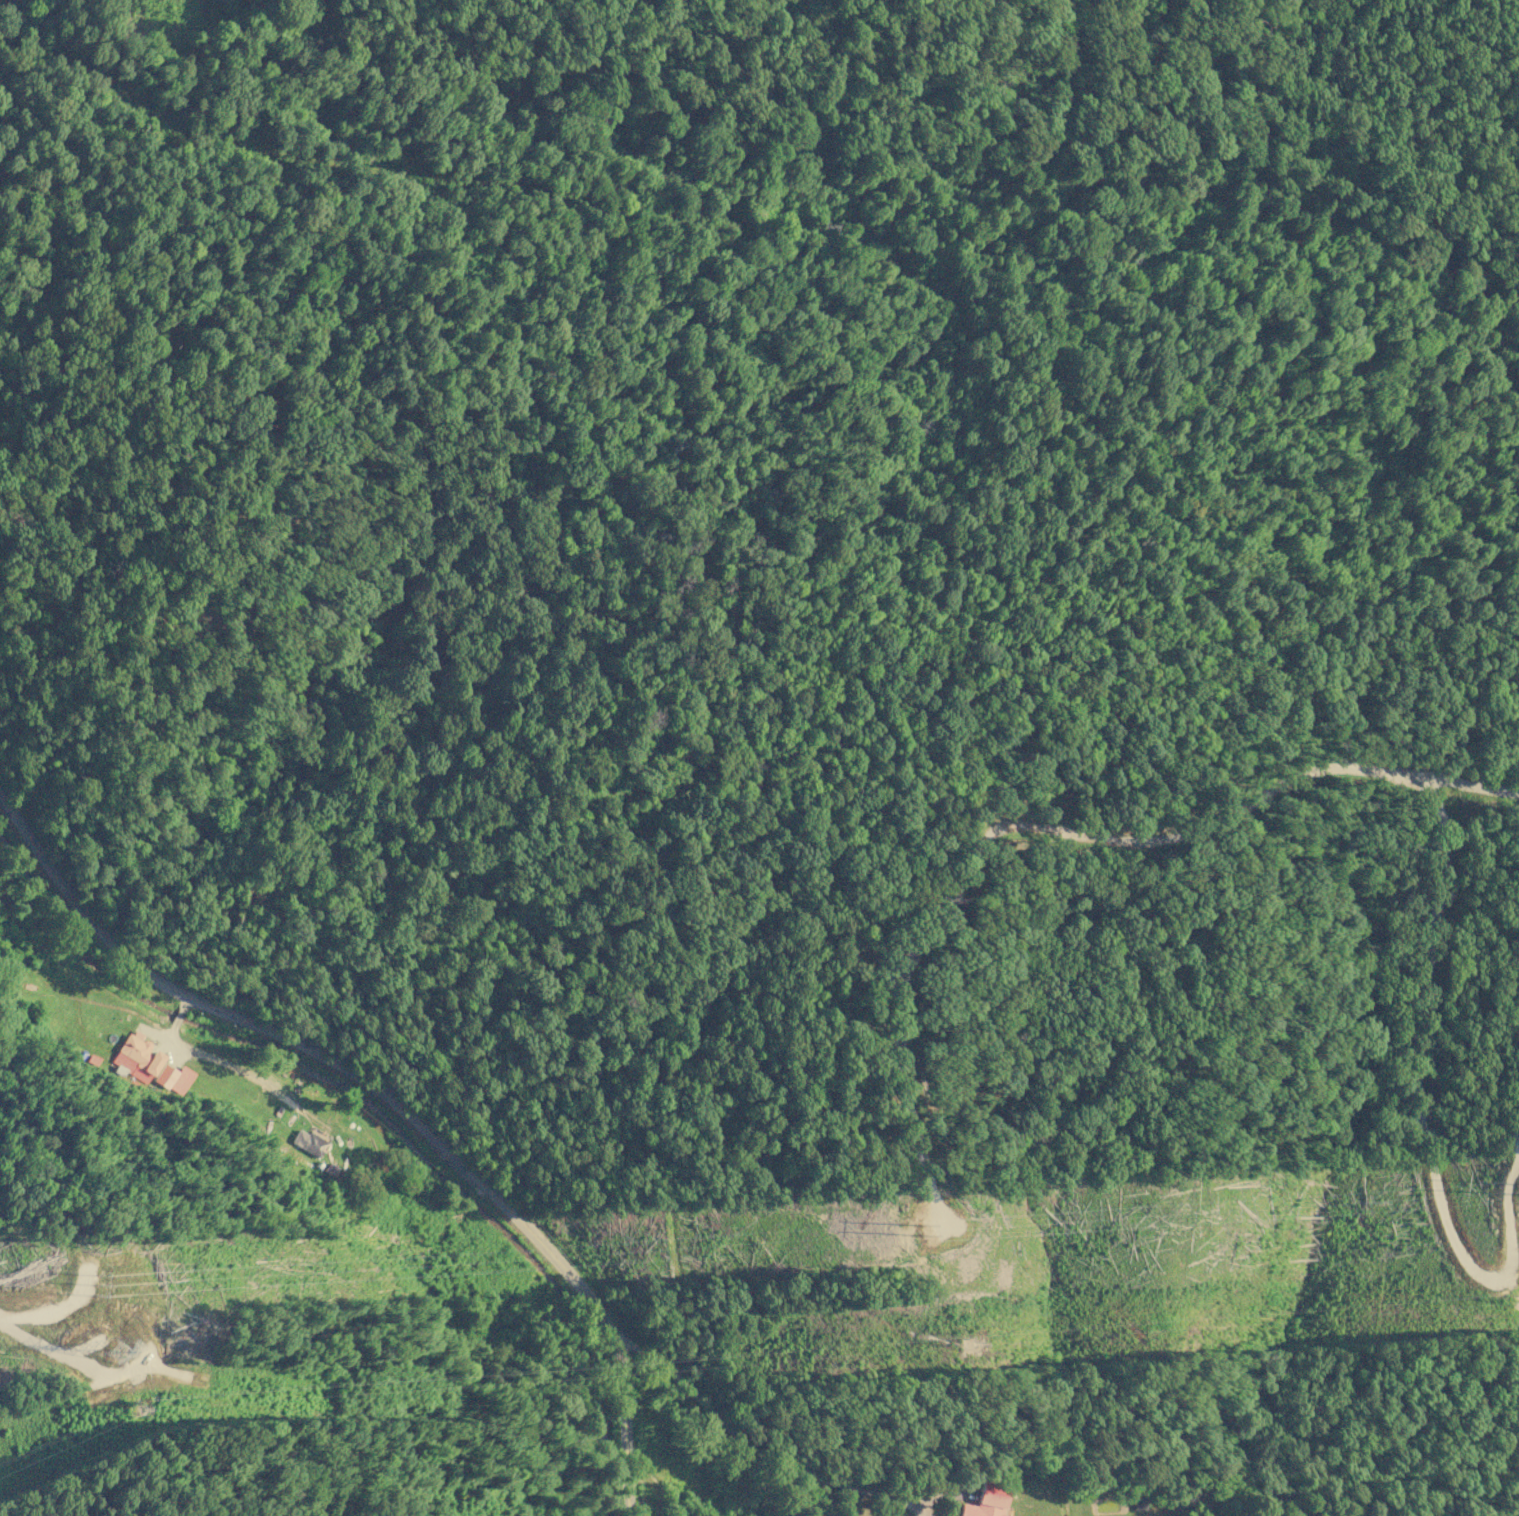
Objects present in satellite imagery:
building: (164, 1076)
road: (391, 1092)
building: (308, 1142)
power tower: (970, 1343)
road: (759, 1450)
building: (985, 1501)

